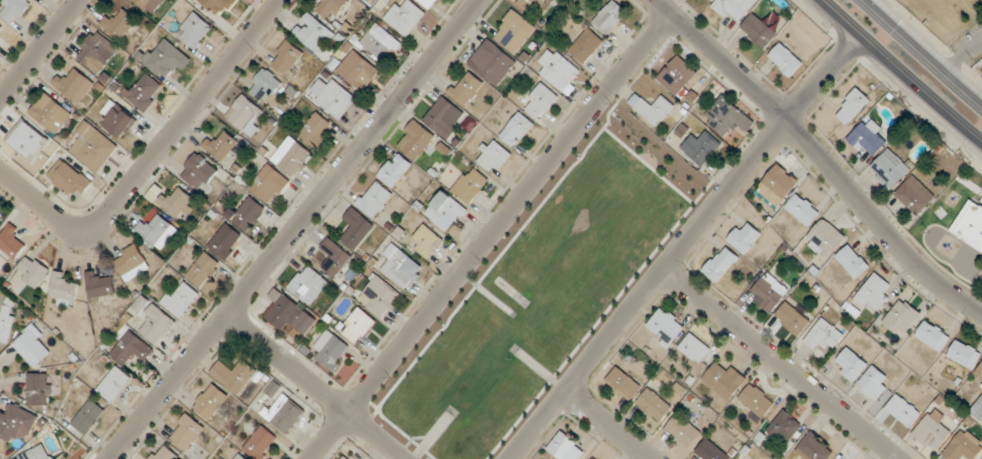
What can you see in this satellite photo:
building: (711, 0)
building: (427, 3)
building: (148, 5)
building: (535, 5)
building: (218, 6)
building: (331, 7)
building: (14, 8)
building: (734, 8)
building: (405, 18)
building: (610, 18)
building: (119, 24)
building: (758, 30)
building: (195, 31)
building: (513, 32)
building: (314, 33)
building: (381, 43)
building: (586, 45)
road: (39, 49)
building: (97, 52)
road: (924, 52)
building: (287, 57)
building: (166, 59)
building: (786, 59)
building: (492, 63)
building: (558, 69)
building: (358, 71)
road: (900, 72)
building: (677, 76)
building: (74, 85)
building: (266, 85)
building: (466, 88)
building: (144, 93)
building: (336, 100)
building: (540, 102)
building: (852, 106)
building: (652, 108)
building: (50, 113)
building: (246, 115)
building: (444, 117)
building: (724, 120)
building: (119, 121)
building: (316, 130)
building: (517, 130)
building: (869, 138)
building: (416, 141)
building: (220, 145)
building: (92, 147)
building: (702, 148)
building: (493, 156)
road: (820, 156)
road: (152, 157)
building: (292, 157)
building: (890, 169)
building: (395, 170)
building: (198, 172)
building: (69, 179)
building: (269, 185)
building: (470, 185)
building: (779, 185)
building: (915, 196)
building: (375, 200)
building: (178, 204)
building: (803, 210)
building: (446, 212)
building: (247, 213)
building: (969, 226)
road: (294, 229)
building: (357, 229)
building: (158, 230)
road: (490, 236)
building: (744, 238)
building: (825, 239)
building: (11, 242)
building: (225, 242)
building: (425, 242)
road: (683, 246)
building: (334, 258)
building: (129, 261)
building: (853, 262)
building: (721, 264)
building: (397, 265)
building: (33, 271)
building: (203, 271)
building: (100, 285)
building: (309, 285)
building: (64, 290)
building: (769, 292)
building: (874, 294)
building: (380, 297)
building: (180, 300)
building: (290, 315)
building: (901, 318)
building: (7, 319)
building: (793, 319)
building: (153, 321)
building: (355, 324)
building: (665, 328)
building: (824, 336)
building: (933, 336)
building: (32, 346)
building: (695, 348)
building: (132, 350)
building: (332, 351)
building: (964, 355)
road: (781, 364)
building: (851, 365)
building: (234, 376)
building: (724, 381)
building: (624, 383)
building: (874, 383)
building: (114, 384)
road: (315, 386)
building: (39, 390)
building: (756, 401)
building: (211, 402)
building: (654, 406)
building: (979, 408)
building: (903, 410)
building: (283, 413)
building: (87, 417)
building: (16, 423)
road: (608, 424)
building: (785, 427)
building: (932, 430)
building: (683, 431)
building: (187, 432)
building: (261, 443)
building: (963, 446)
building: (565, 448)
building: (813, 449)
building: (711, 451)
building: (165, 453)
building: (37, 454)
building: (239, 457)
building: (346, 457)
building: (222, 458)
building: (594, 458)

